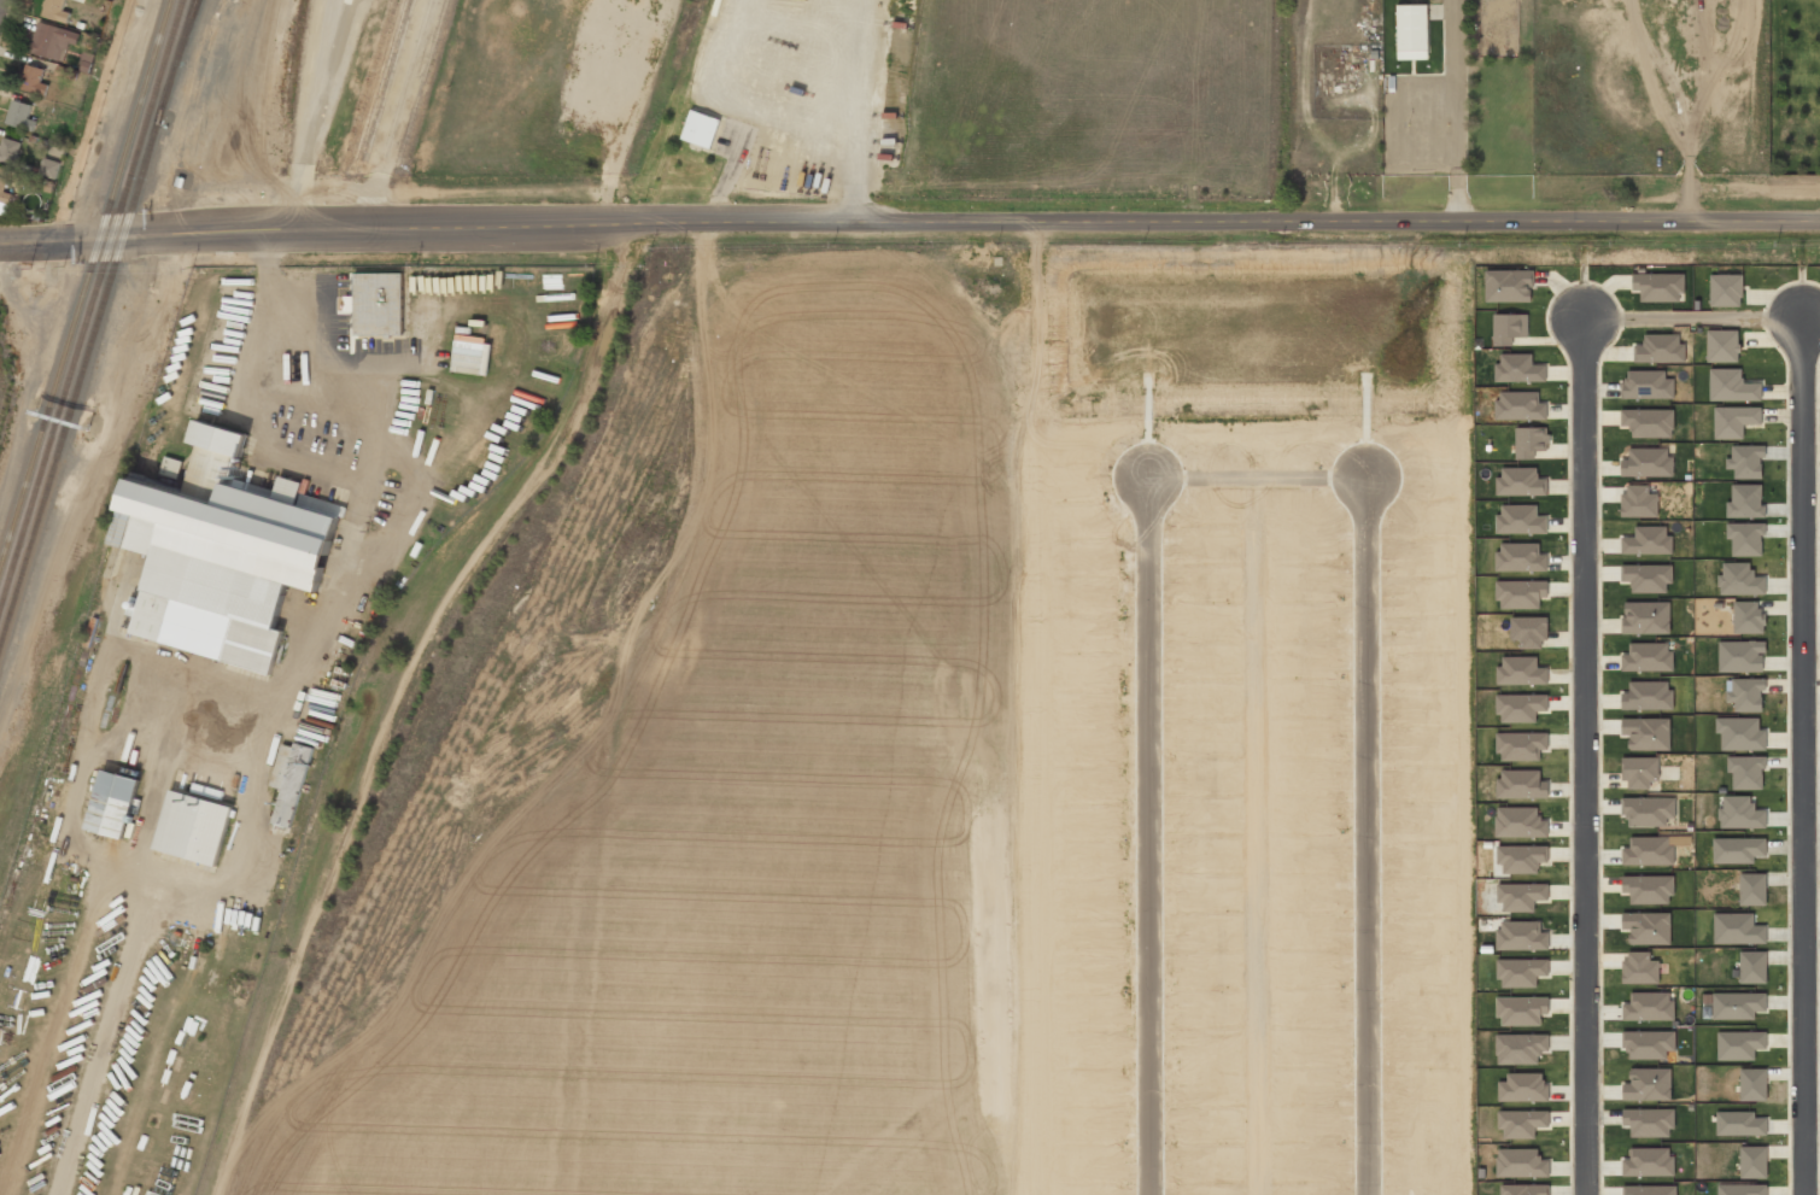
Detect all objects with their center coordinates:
road: (0, 2)
building: (55, 10)
building: (1412, 31)
building: (51, 40)
railway: (186, 48)
building: (33, 78)
railway: (406, 84)
railway: (376, 86)
railway: (387, 87)
railway: (421, 87)
building: (21, 115)
road: (90, 121)
building: (700, 129)
building: (8, 150)
building: (47, 166)
building: (4, 188)
road: (965, 223)
road: (55, 240)
railway: (86, 286)
building: (1509, 286)
building: (1726, 289)
building: (379, 304)
railway: (92, 305)
road: (1693, 315)
railway: (98, 324)
building: (1722, 345)
building: (1646, 385)
building: (1732, 386)
building: (1734, 421)
building: (1649, 422)
building: (218, 438)
building: (1745, 461)
building: (1646, 462)
building: (1639, 502)
building: (1745, 502)
building: (1745, 538)
building: (224, 561)
building: (1739, 580)
building: (1521, 594)
building: (1646, 617)
building: (1748, 617)
building: (1528, 631)
building: (1740, 656)
building: (1745, 693)
road: (399, 698)
building: (1740, 733)
building: (1521, 745)
road: (1586, 755)
road: (1801, 755)
building: (1639, 768)
building: (1746, 772)
building: (289, 780)
building: (1521, 784)
building: (115, 804)
building: (1649, 810)
building: (1739, 813)
building: (193, 827)
road: (1360, 833)
road: (1148, 839)
building: (1648, 850)
building: (1738, 850)
building: (1752, 889)
building: (1737, 929)
building: (1752, 966)
building: (1640, 968)
building: (1737, 1004)
building: (1649, 1006)
building: (1649, 1043)
building: (1739, 1044)
building: (1520, 1048)
building: (1648, 1084)
building: (1752, 1084)
building: (1523, 1086)
building: (1649, 1121)
building: (1739, 1123)
building: (1752, 1161)
building: (1648, 1162)
building: (1521, 1164)
building: (1523, 1189)
building: (1743, 1189)
building: (1649, 1190)

